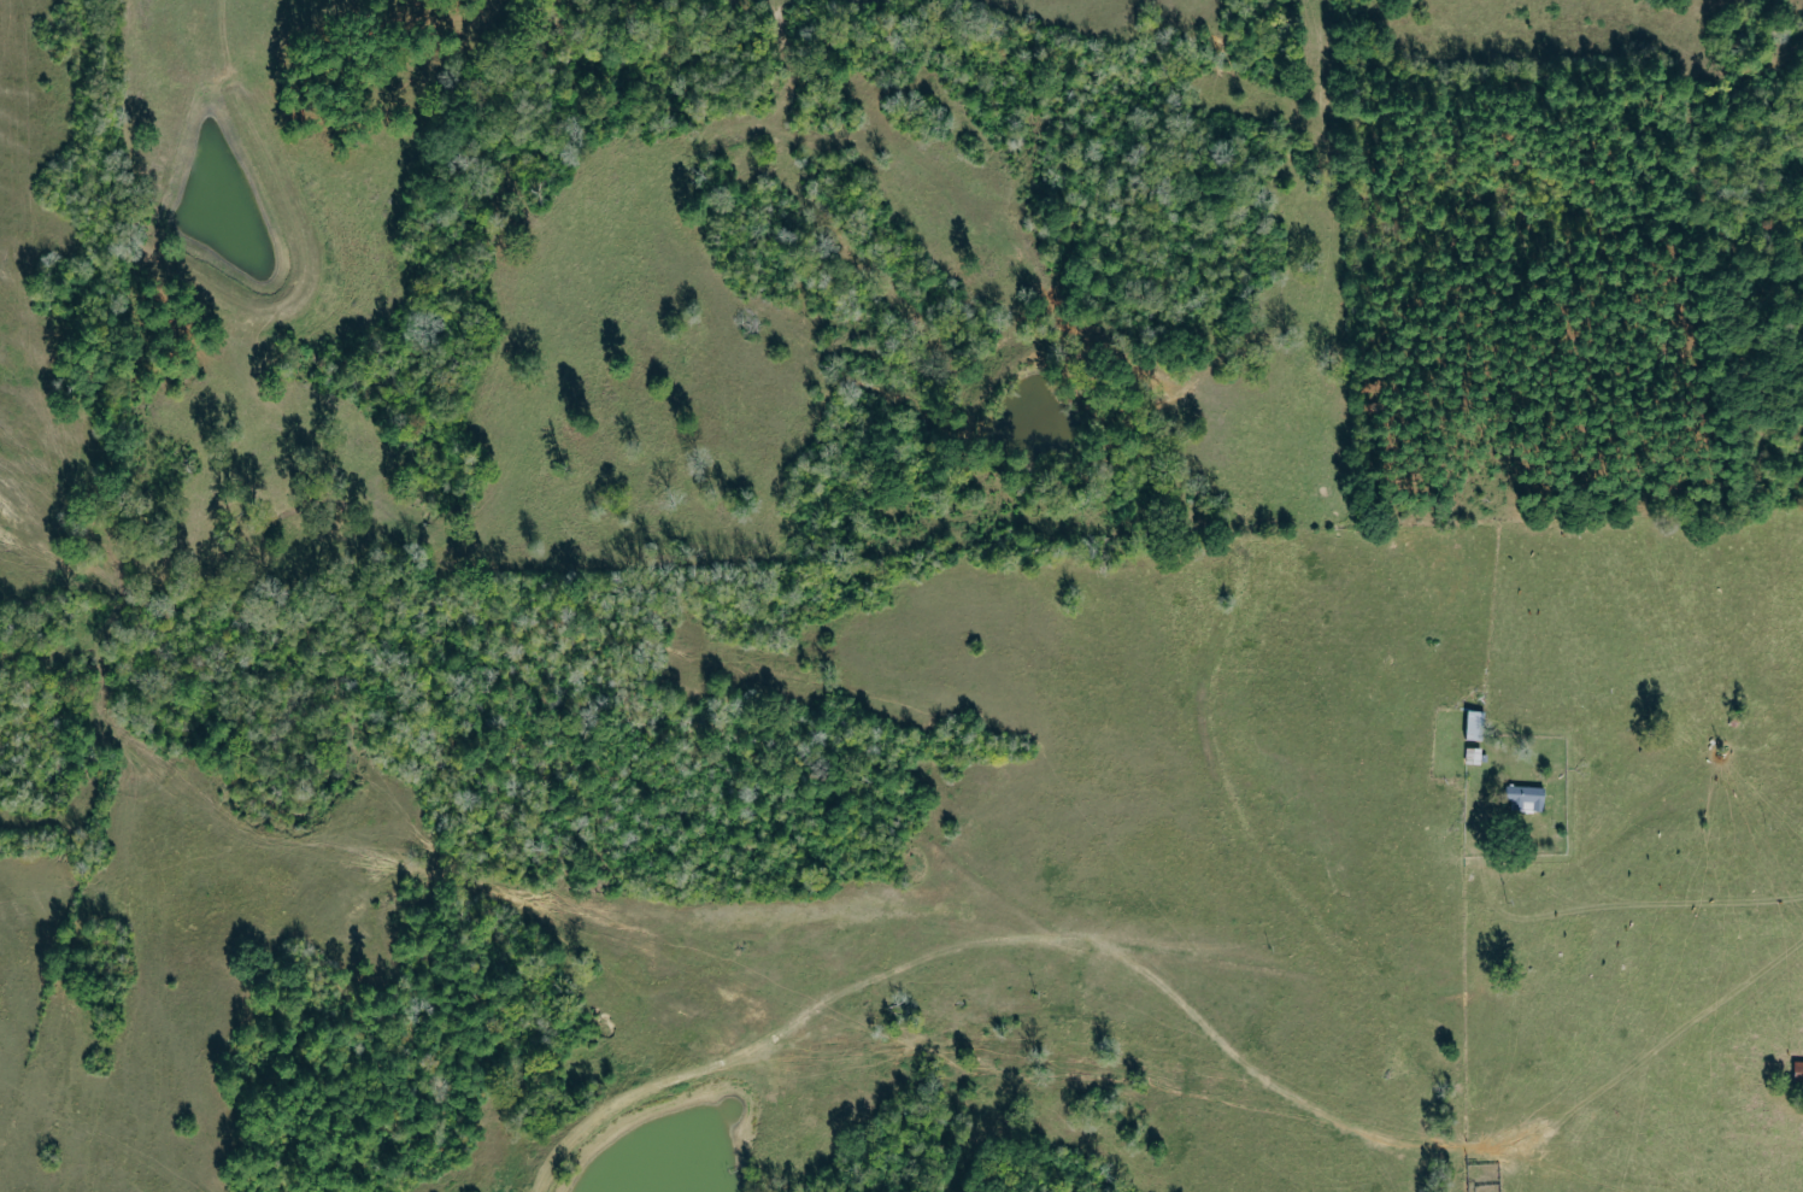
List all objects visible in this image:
building: (1478, 726)
building: (1475, 756)
building: (1528, 798)
building: (1799, 1069)

